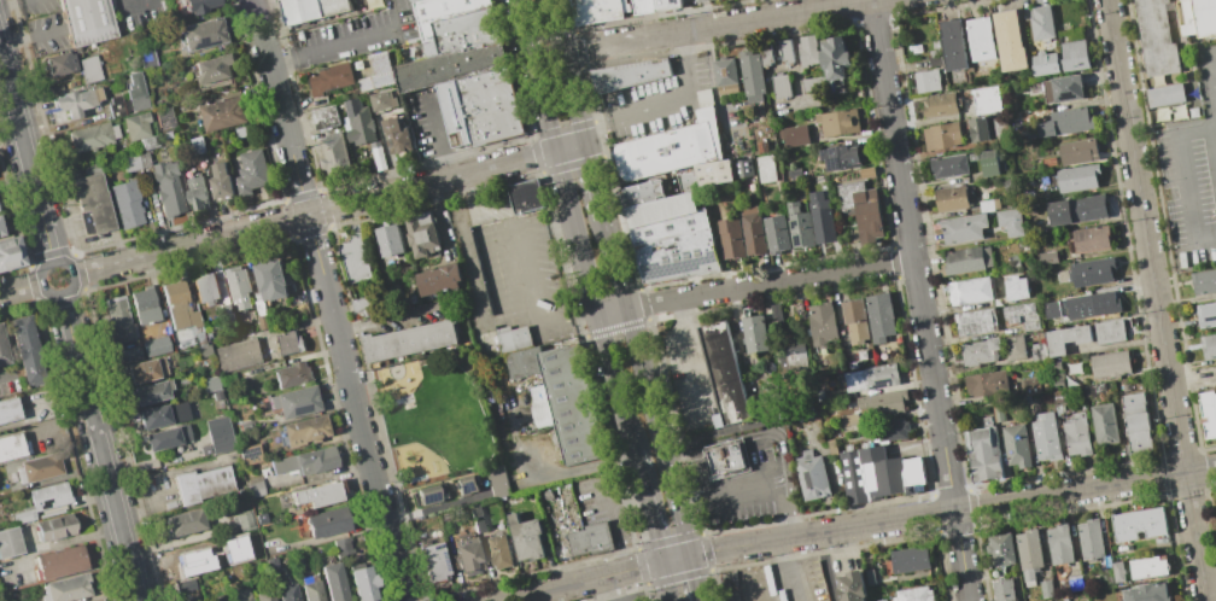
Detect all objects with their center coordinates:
building: (708, 0)
road: (17, 4)
road: (134, 4)
building: (666, 4)
building: (198, 5)
building: (642, 6)
building: (312, 10)
building: (596, 11)
building: (1198, 17)
building: (443, 18)
building: (92, 22)
building: (1042, 22)
road: (717, 27)
building: (468, 31)
building: (201, 33)
road: (29, 37)
building: (1156, 37)
road: (543, 39)
building: (981, 39)
building: (1009, 40)
road: (331, 45)
building: (952, 45)
building: (785, 51)
building: (807, 51)
building: (766, 54)
building: (1074, 54)
building: (834, 58)
building: (935, 60)
road: (565, 62)
road: (1215, 62)
building: (59, 63)
building: (1045, 63)
building: (89, 68)
building: (215, 68)
building: (454, 68)
building: (378, 71)
building: (630, 74)
road: (536, 76)
building: (725, 76)
building: (752, 76)
building: (329, 78)
building: (926, 81)
building: (813, 83)
building: (782, 87)
building: (1063, 88)
building: (134, 91)
building: (445, 93)
building: (1164, 94)
building: (381, 100)
building: (987, 100)
building: (77, 101)
road: (662, 101)
building: (939, 105)
building: (116, 106)
building: (492, 107)
building: (222, 113)
building: (326, 117)
building: (165, 118)
building: (358, 122)
building: (837, 122)
building: (1065, 122)
building: (139, 129)
building: (978, 129)
building: (1000, 130)
road: (584, 134)
building: (794, 134)
building: (941, 135)
building: (92, 136)
building: (397, 136)
traffic signals: (586, 144)
road: (443, 146)
building: (670, 146)
building: (762, 146)
road: (571, 147)
building: (1077, 151)
traffic signals: (556, 152)
building: (334, 154)
building: (376, 154)
road: (27, 156)
building: (840, 156)
building: (1048, 161)
building: (130, 162)
building: (988, 163)
building: (948, 165)
building: (742, 168)
building: (765, 168)
building: (251, 171)
building: (713, 171)
building: (794, 173)
building: (866, 173)
parking lot: (1192, 174)
building: (1077, 177)
road: (595, 180)
building: (688, 181)
building: (220, 182)
road: (1185, 182)
building: (168, 187)
building: (197, 192)
building: (644, 192)
building: (951, 198)
building: (92, 200)
building: (125, 204)
building: (988, 204)
building: (660, 209)
building: (861, 209)
building: (1077, 210)
road: (314, 212)
building: (820, 216)
building: (1010, 221)
building: (1, 224)
building: (799, 226)
building: (670, 227)
building: (963, 227)
building: (752, 231)
building: (0, 232)
road: (575, 232)
building: (776, 233)
building: (422, 234)
road: (1205, 235)
building: (730, 238)
building: (1092, 238)
building: (388, 240)
building: (11, 251)
building: (357, 256)
building: (677, 256)
building: (1047, 257)
building: (967, 259)
road: (615, 262)
building: (510, 267)
rooftop solar panel: (677, 268)
road: (71, 270)
building: (1091, 272)
building: (270, 279)
building: (438, 279)
building: (1203, 281)
road: (770, 284)
road: (21, 286)
building: (238, 286)
building: (1016, 287)
building: (205, 288)
building: (970, 290)
road: (328, 300)
road: (918, 300)
road: (1156, 300)
building: (364, 304)
building: (1092, 304)
building: (144, 305)
building: (259, 307)
building: (181, 309)
building: (1051, 309)
road: (612, 310)
building: (774, 314)
building: (1022, 315)
building: (1206, 315)
building: (879, 316)
building: (118, 317)
road: (391, 317)
building: (854, 320)
building: (262, 321)
building: (975, 321)
building: (820, 323)
building: (1109, 331)
building: (754, 333)
building: (1065, 338)
building: (409, 340)
building: (290, 343)
building: (156, 345)
building: (1209, 345)
building: (794, 348)
building: (1015, 348)
building: (29, 349)
building: (2, 350)
building: (203, 350)
building: (980, 350)
building: (1037, 352)
building: (130, 355)
building: (238, 355)
building: (1110, 363)
building: (1056, 366)
building: (145, 369)
building: (723, 370)
road: (6, 372)
building: (292, 374)
building: (871, 378)
building: (986, 383)
building: (1058, 383)
building: (210, 384)
road: (614, 385)
building: (1031, 386)
building: (150, 392)
building: (294, 402)
building: (881, 402)
building: (569, 403)
rooftop solar panel: (304, 408)
building: (8, 410)
rooftop solar panel: (294, 410)
building: (1208, 412)
building: (998, 414)
building: (163, 415)
park: (440, 418)
building: (848, 419)
building: (1136, 422)
building: (245, 424)
building: (1104, 424)
building: (303, 430)
road: (659, 430)
building: (889, 430)
road: (744, 432)
building: (218, 434)
building: (1075, 434)
building: (1045, 436)
building: (166, 437)
building: (1015, 445)
building: (13, 447)
road: (101, 447)
building: (831, 447)
building: (204, 449)
rooftop solar panel: (249, 453)
building: (983, 453)
building: (249, 454)
building: (724, 457)
building: (306, 461)
building: (40, 468)
building: (877, 474)
road: (548, 475)
building: (811, 475)
building: (498, 480)
building: (200, 484)
building: (466, 484)
road: (759, 485)
building: (256, 486)
rooftop solar panel: (469, 488)
building: (316, 494)
building: (427, 495)
building: (52, 496)
rooftop solar panel: (428, 497)
road: (647, 509)
building: (24, 515)
building: (477, 518)
building: (241, 520)
building: (183, 521)
building: (327, 521)
building: (1139, 524)
road: (859, 525)
building: (57, 527)
building: (526, 537)
building: (590, 538)
building: (1089, 539)
building: (10, 542)
building: (1059, 543)
building: (343, 545)
building: (1000, 549)
building: (498, 550)
building: (466, 553)
building: (193, 554)
traffic signals: (691, 555)
building: (1029, 555)
building: (908, 559)
building: (62, 561)
building: (433, 561)
traffic signals: (661, 562)
building: (271, 564)
building: (1147, 566)
road: (795, 568)
building: (1117, 571)
road: (747, 573)
building: (996, 573)
building: (870, 577)
building: (1104, 577)
road: (696, 578)
road: (666, 580)
building: (333, 582)
building: (362, 582)
parking lot: (777, 582)
building: (852, 587)
building: (311, 588)
building: (69, 589)
building: (1045, 589)
building: (1002, 590)
building: (287, 593)
building: (1146, 593)
building: (913, 594)
building: (239, 595)
building: (264, 595)
building: (192, 599)
building: (218, 599)
building: (881, 600)

